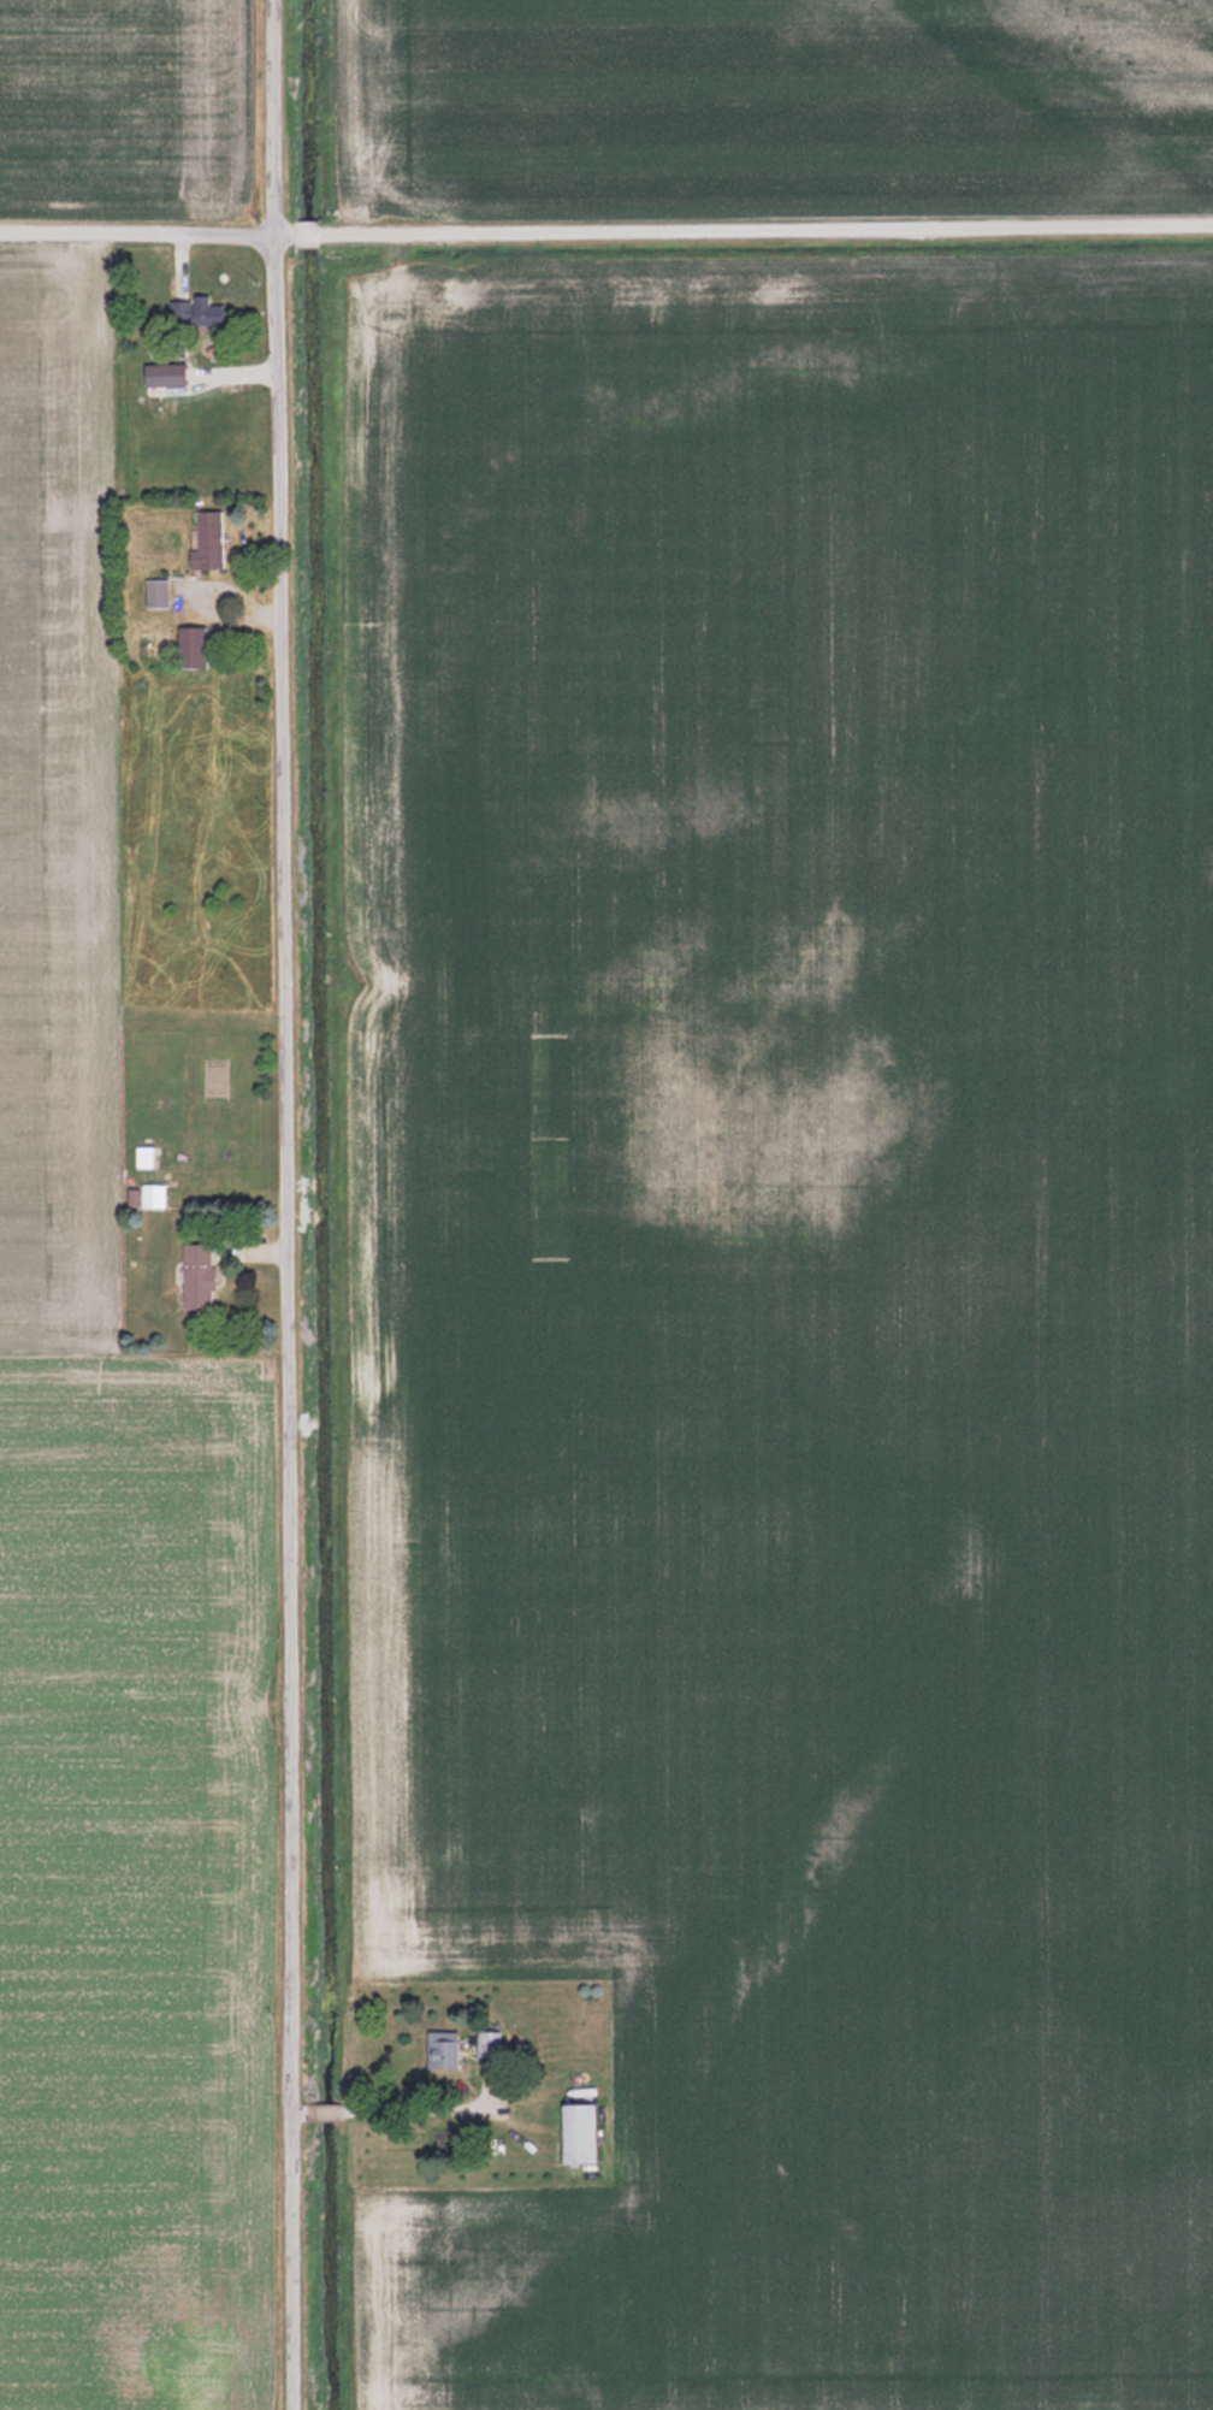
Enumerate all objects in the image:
road: (606, 238)
building: (193, 311)
building: (170, 374)
building: (206, 542)
building: (156, 592)
building: (189, 646)
building: (143, 1156)
building: (147, 1195)
road: (290, 1204)
building: (197, 1275)
building: (442, 2054)
road: (412, 2107)
road: (309, 2108)
road: (329, 2108)
building: (576, 2133)

